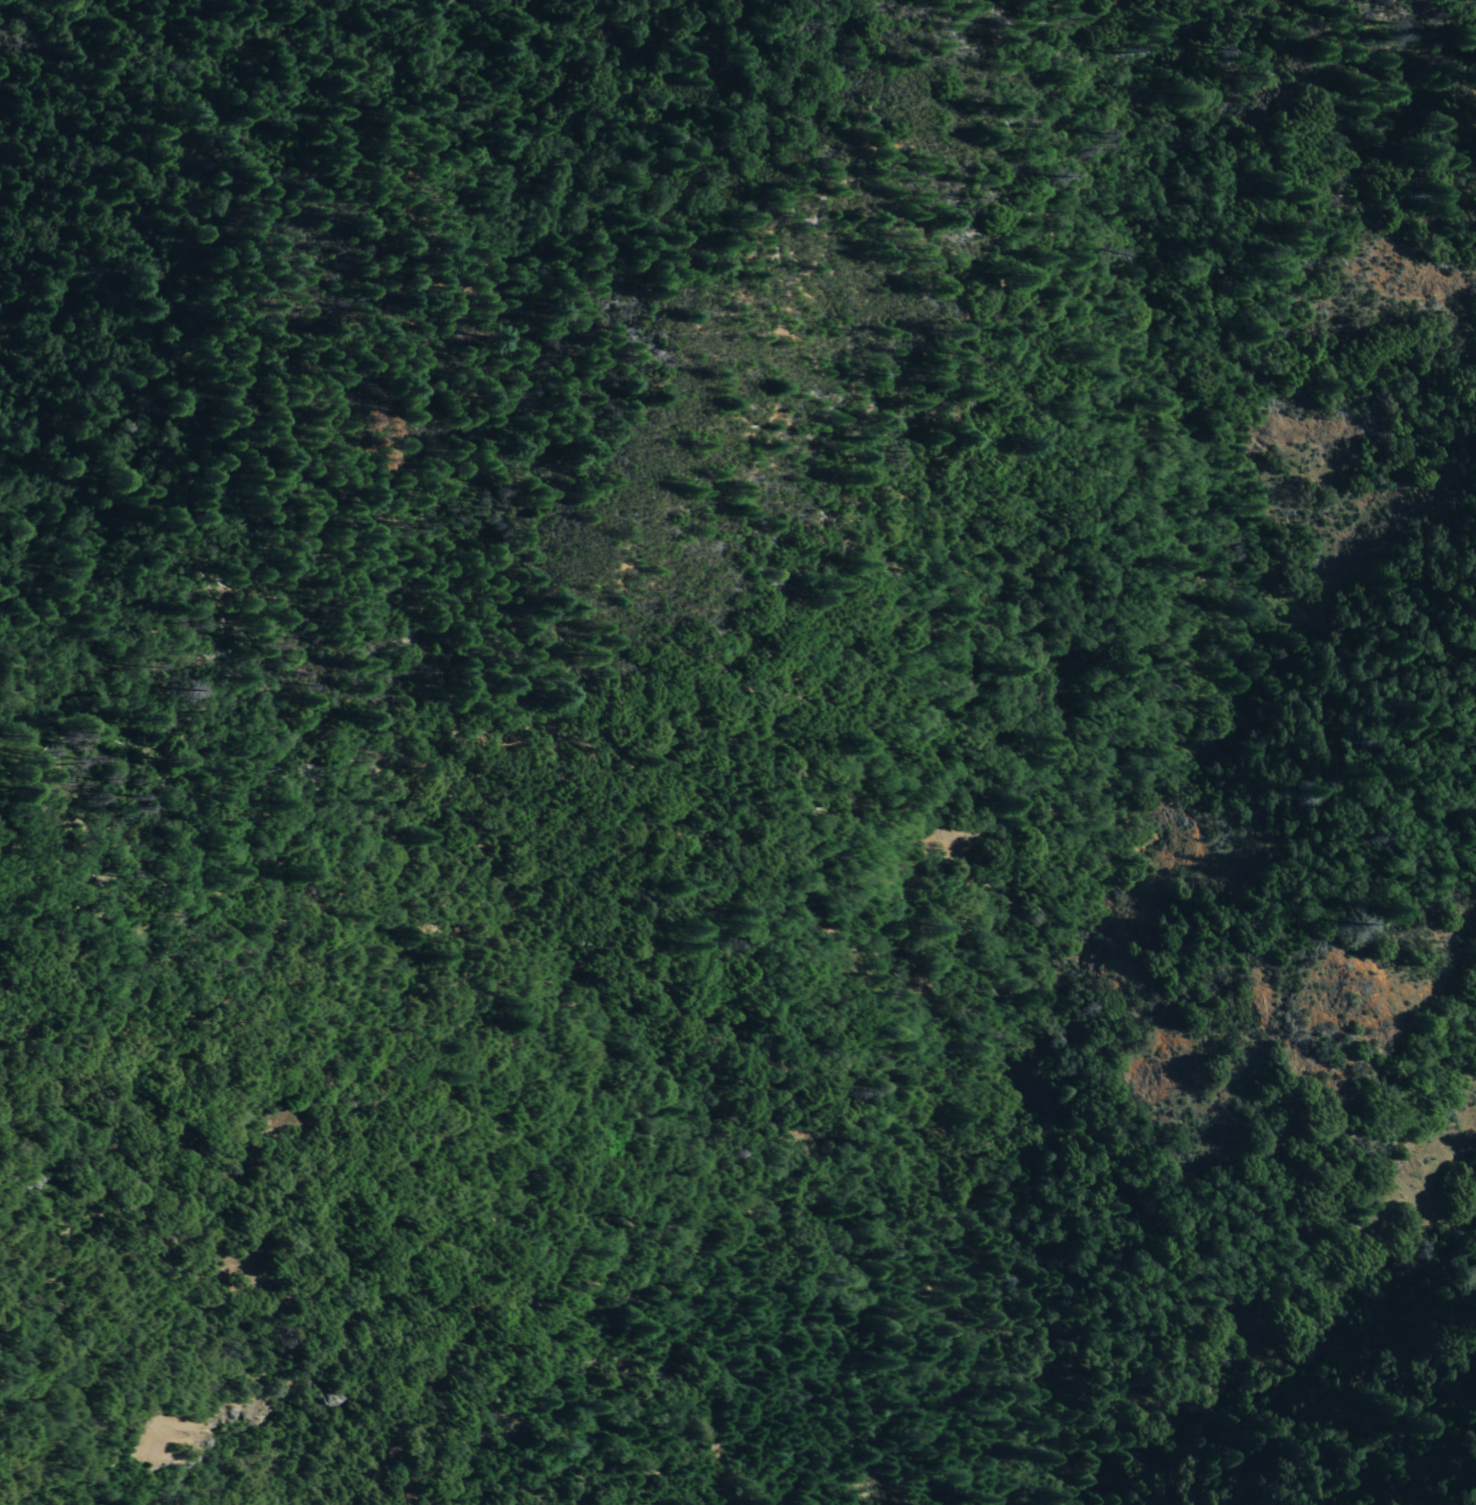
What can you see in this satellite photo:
park: (16, 24)
park: (747, 1213)
park: (126, 1450)

